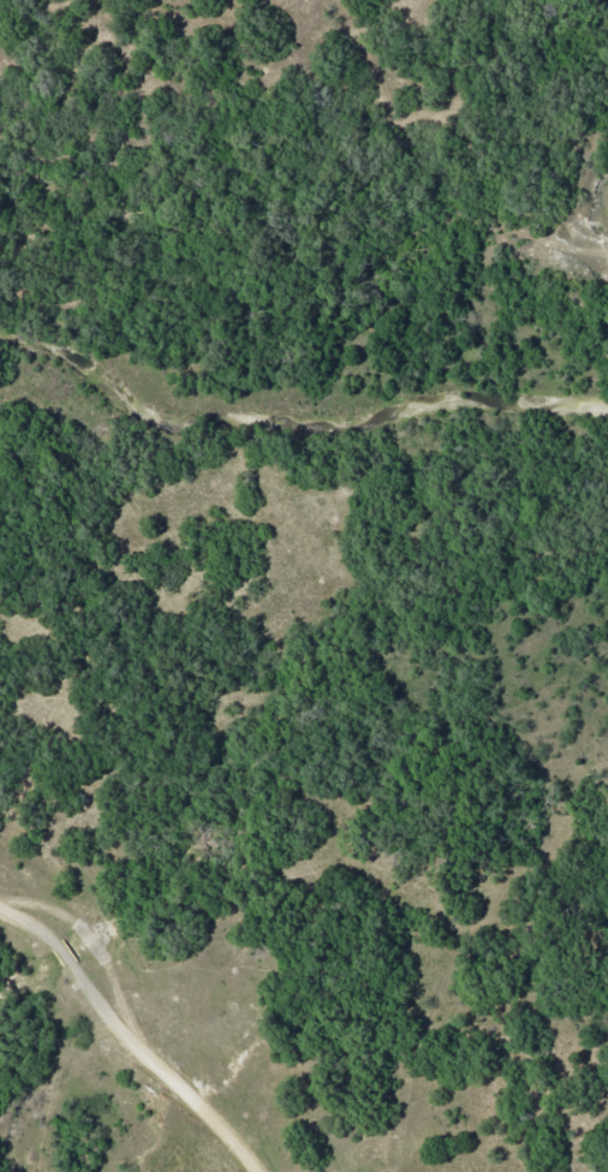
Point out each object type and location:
road: (132, 1037)

